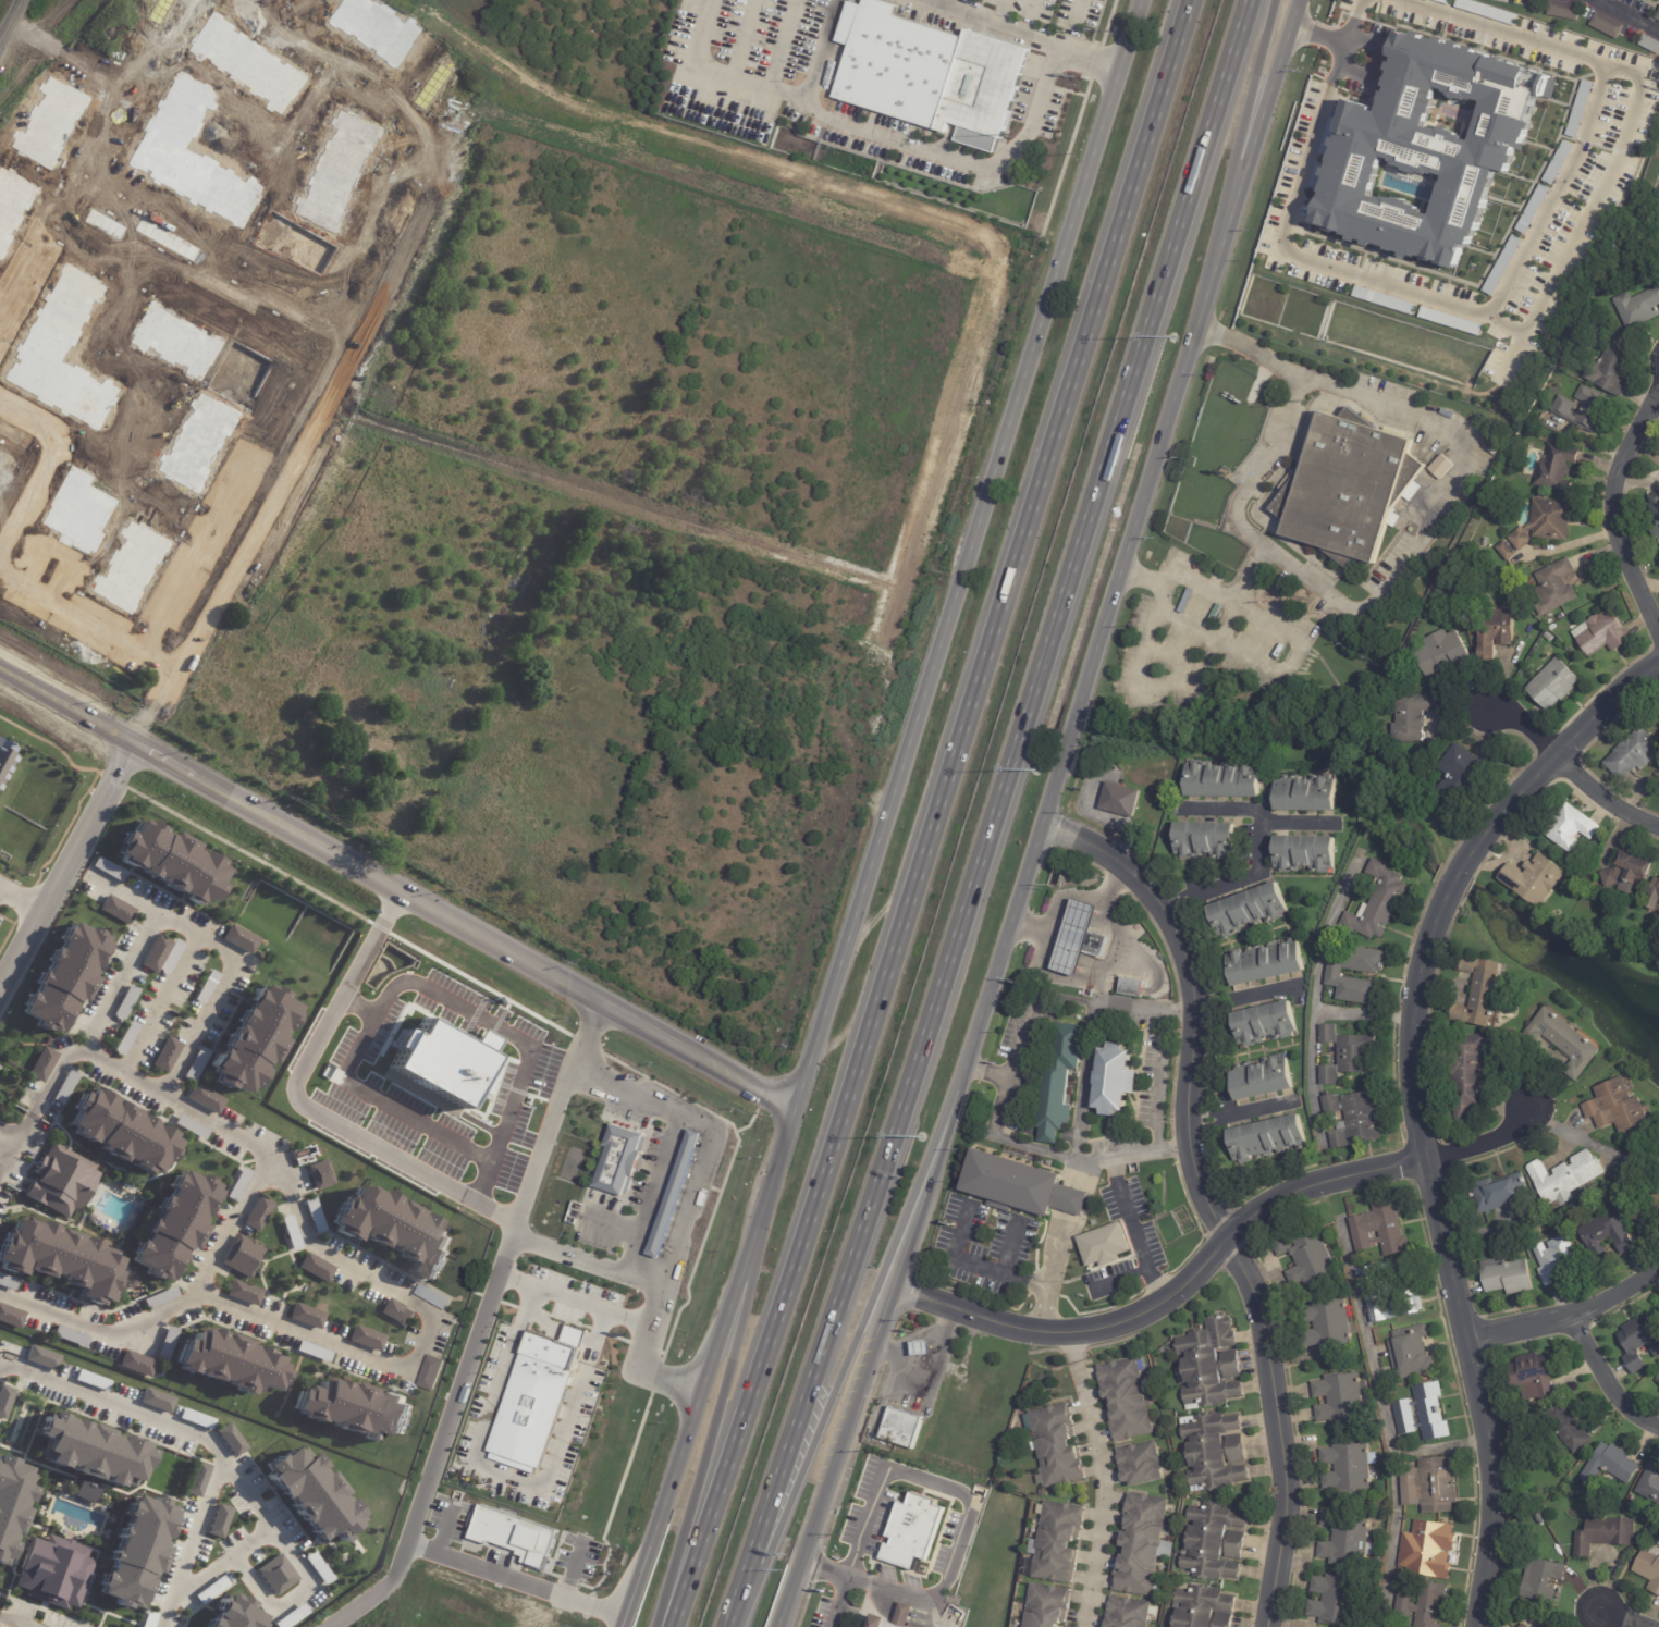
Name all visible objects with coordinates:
building: (1501, 0)
building: (1442, 1)
building: (1560, 10)
building: (1487, 11)
road: (1354, 15)
road: (1624, 15)
building: (1657, 15)
road: (997, 23)
road: (29, 24)
building: (1603, 24)
road: (1071, 25)
road: (1323, 35)
building: (1648, 44)
road: (1340, 54)
parking lot: (1371, 59)
road: (1092, 60)
road: (1375, 62)
building: (930, 71)
building: (1578, 109)
park: (1455, 114)
road: (1234, 146)
road: (910, 147)
building: (1431, 152)
road: (91, 159)
building: (1557, 163)
road: (1590, 208)
building: (1532, 209)
road: (207, 243)
building: (1501, 266)
road: (1510, 276)
road: (183, 286)
building: (1385, 300)
building: (1639, 308)
building: (1450, 321)
road: (361, 340)
building: (1564, 361)
building: (1612, 370)
road: (287, 391)
building: (1586, 409)
parking lot: (1270, 446)
building: (1440, 467)
building: (1560, 468)
road: (44, 470)
building: (1347, 485)
road: (1621, 511)
building: (1652, 516)
building: (1548, 522)
building: (1461, 549)
building: (1508, 551)
road: (967, 553)
parking lot: (1392, 566)
road: (1195, 581)
building: (1558, 587)
building: (1452, 590)
road: (1341, 604)
building: (1562, 616)
road: (89, 624)
building: (1554, 628)
road: (1202, 631)
building: (1498, 632)
building: (1603, 632)
parking lot: (1205, 639)
building: (1443, 654)
road: (1220, 663)
building: (1557, 685)
building: (1415, 716)
building: (1630, 754)
building: (5, 757)
road: (1577, 773)
building: (1464, 775)
building: (1226, 780)
building: (1307, 794)
building: (1122, 801)
road: (934, 815)
road: (991, 815)
road: (1050, 816)
road: (1292, 823)
building: (1566, 828)
building: (1207, 841)
building: (1306, 854)
road: (1256, 856)
building: (169, 864)
building: (108, 868)
road: (66, 873)
building: (1624, 874)
building: (1056, 875)
building: (1533, 879)
road: (395, 888)
road: (125, 895)
road: (1067, 897)
building: (1650, 897)
road: (23, 900)
building: (1380, 903)
building: (115, 909)
building: (1253, 910)
road: (195, 934)
building: (1077, 937)
building: (238, 938)
gas station: (1080, 939)
building: (156, 951)
building: (171, 957)
building: (1267, 962)
building: (1337, 976)
building: (62, 979)
building: (205, 987)
building: (1134, 989)
building: (1474, 991)
road: (1242, 996)
road: (1315, 996)
road: (1050, 997)
building: (124, 1001)
road: (158, 1003)
road: (1364, 1014)
building: (1265, 1024)
building: (125, 1037)
building: (483, 1038)
building: (254, 1041)
building: (1560, 1041)
building: (164, 1053)
building: (1350, 1055)
building: (438, 1059)
building: (195, 1063)
building: (41, 1065)
building: (1463, 1072)
building: (1115, 1080)
building: (1266, 1080)
parking lot: (360, 1082)
road: (1083, 1082)
road: (1160, 1082)
building: (1061, 1085)
building: (63, 1087)
building: (204, 1098)
road: (1418, 1107)
building: (1613, 1107)
road: (554, 1111)
parking lot: (625, 1114)
building: (1356, 1120)
road: (16, 1126)
building: (189, 1126)
building: (124, 1133)
road: (675, 1138)
building: (1268, 1139)
road: (15, 1144)
road: (502, 1147)
road: (1058, 1156)
building: (619, 1160)
parking lot: (646, 1169)
road: (0, 1171)
road: (0, 1174)
building: (320, 1174)
building: (1564, 1176)
building: (59, 1180)
building: (237, 1184)
road: (248, 1187)
building: (1021, 1187)
building: (1498, 1193)
building: (675, 1194)
gas station: (675, 1194)
road: (687, 1198)
road: (1208, 1199)
building: (1645, 1211)
building: (257, 1213)
building: (314, 1216)
road: (500, 1216)
building: (176, 1222)
parking lot: (598, 1224)
road: (618, 1224)
building: (1382, 1229)
building: (394, 1230)
road: (1132, 1231)
building: (290, 1232)
building: (1602, 1234)
building: (1479, 1245)
building: (1107, 1246)
road: (1008, 1249)
road: (1214, 1252)
building: (242, 1256)
building: (54, 1257)
building: (1308, 1258)
building: (1553, 1258)
road: (975, 1266)
building: (315, 1268)
building: (1506, 1275)
road: (1122, 1278)
building: (131, 1280)
building: (7, 1282)
road: (1048, 1282)
road: (644, 1283)
building: (1393, 1290)
building: (243, 1292)
parking lot: (574, 1295)
building: (158, 1297)
building: (432, 1297)
road: (573, 1301)
building: (397, 1311)
building: (10, 1315)
building: (306, 1315)
road: (1568, 1317)
building: (1331, 1324)
building: (70, 1336)
building: (365, 1338)
road: (919, 1338)
road: (422, 1339)
building: (165, 1343)
building: (1636, 1343)
road: (849, 1346)
building: (921, 1347)
gas station: (921, 1347)
building: (314, 1352)
building: (1413, 1353)
building: (41, 1358)
building: (136, 1363)
building: (231, 1363)
building: (1213, 1364)
road: (713, 1368)
building: (430, 1373)
building: (1531, 1377)
building: (91, 1379)
road: (1608, 1379)
building: (1657, 1381)
building: (4, 1398)
building: (536, 1398)
building: (1343, 1398)
building: (156, 1400)
building: (1128, 1400)
building: (352, 1410)
building: (1425, 1414)
building: (196, 1418)
road: (1385, 1420)
building: (900, 1428)
building: (1562, 1428)
building: (230, 1440)
road: (702, 1445)
building: (1059, 1446)
building: (94, 1451)
road: (1440, 1451)
building: (1217, 1452)
building: (1142, 1464)
building: (1608, 1466)
building: (1350, 1467)
road: (509, 1476)
road: (1099, 1479)
building: (196, 1480)
road: (929, 1481)
building: (1649, 1484)
building: (1433, 1486)
building: (85, 1491)
building: (309, 1491)
building: (1630, 1499)
building: (12, 1501)
fountain: (77, 1501)
fountain: (81, 1502)
fountain: (85, 1503)
road: (256, 1509)
parking lot: (450, 1518)
fountain: (67, 1519)
fountain: (67, 1521)
building: (218, 1523)
fountain: (70, 1524)
fountain: (79, 1524)
fountain: (78, 1525)
fountain: (76, 1526)
road: (195, 1527)
building: (912, 1531)
road: (444, 1533)
building: (515, 1534)
building: (1602, 1534)
road: (253, 1540)
building: (1347, 1540)
building: (1061, 1542)
building: (1217, 1542)
building: (1141, 1544)
road: (421, 1549)
building: (1429, 1549)
building: (134, 1551)
parking lot: (578, 1556)
parking lot: (500, 1560)
building: (318, 1567)
road: (573, 1569)
building: (1648, 1569)
building: (53, 1571)
building: (275, 1574)
building: (1538, 1580)
road: (875, 1586)
road: (531, 1587)
building: (210, 1589)
building: (1337, 1600)
road: (837, 1601)
road: (883, 1602)
building: (1423, 1605)
building: (1050, 1606)
building: (1206, 1607)
building: (1130, 1613)
building: (231, 1615)
building: (291, 1616)
road: (904, 1616)
building: (896, 1617)
building: (149, 1618)
road: (1625, 1618)
road: (15, 1620)
road: (918, 1623)
road: (21, 1625)
building: (1522, 1626)

